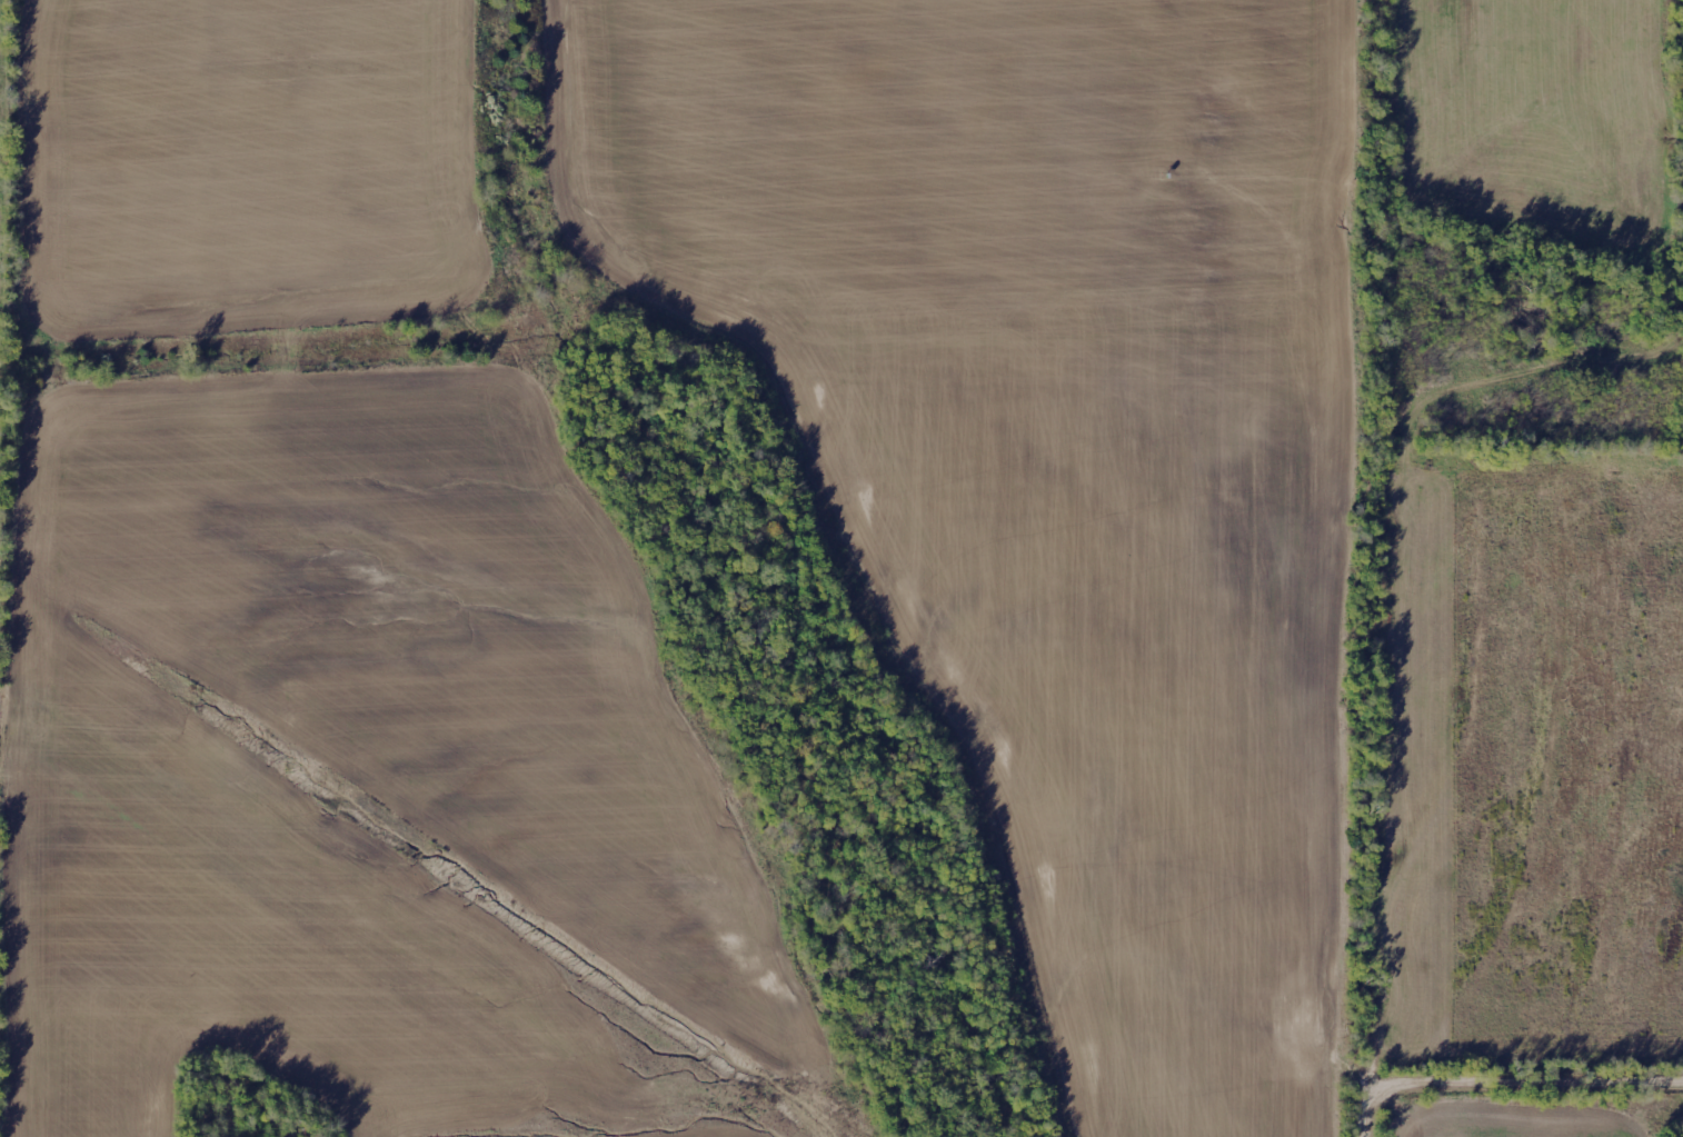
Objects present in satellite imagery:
road: (1503, 1070)

